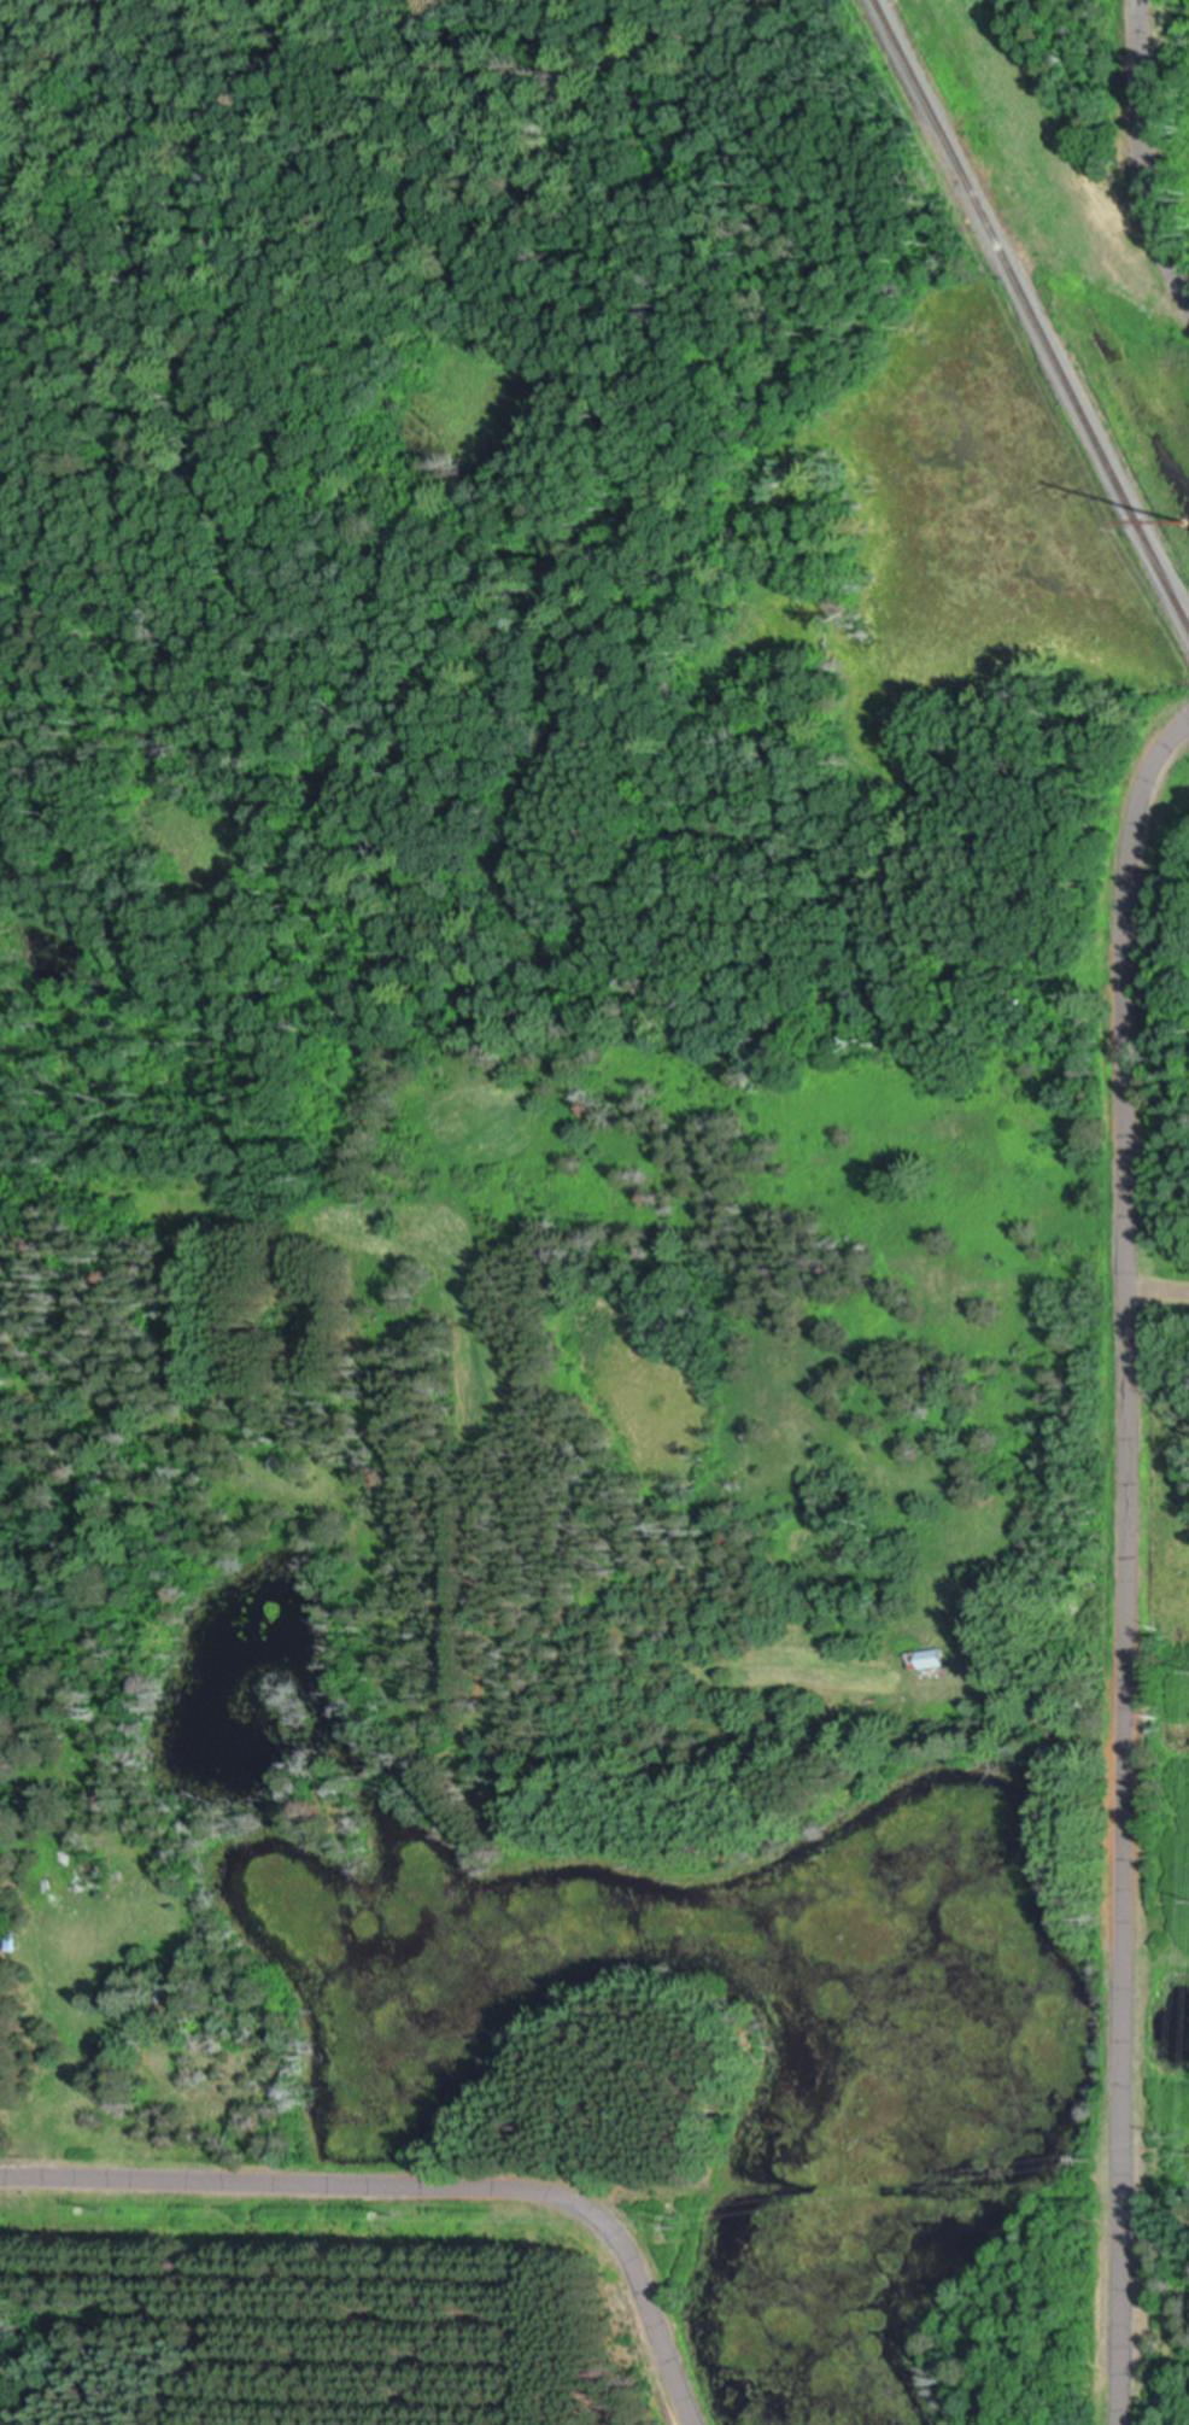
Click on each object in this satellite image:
road: (1142, 157)
railway: (1031, 316)
power tower: (1182, 524)
road: (1123, 1565)
building: (929, 1663)
road: (417, 2184)

